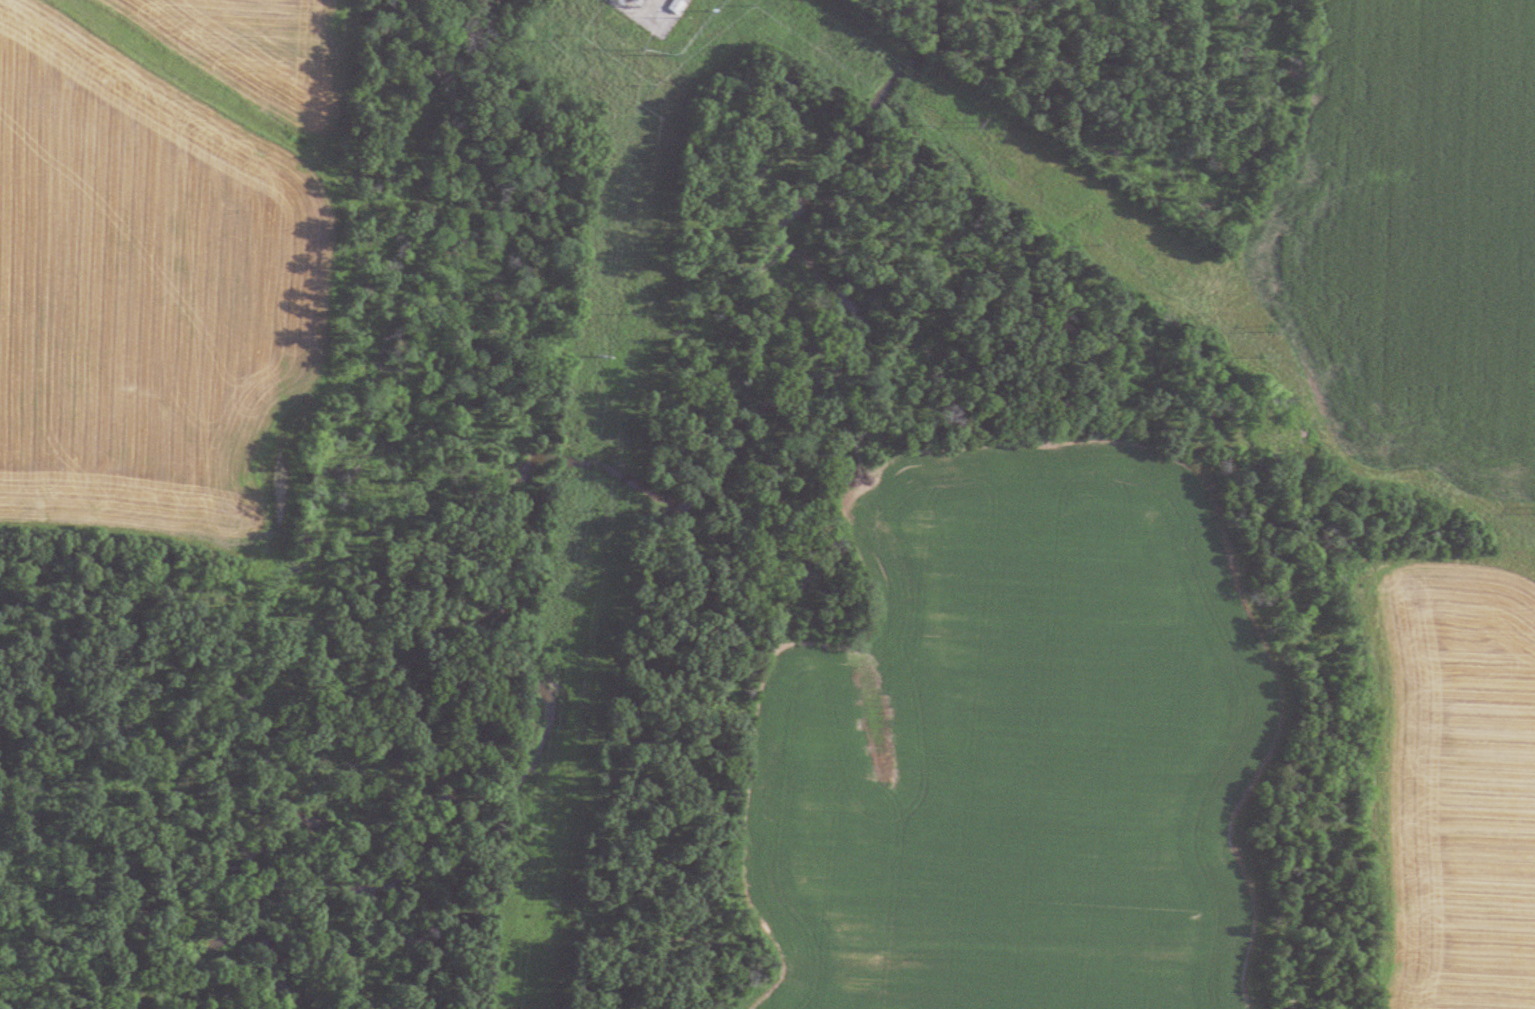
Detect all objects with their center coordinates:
power substation: (652, 13)

